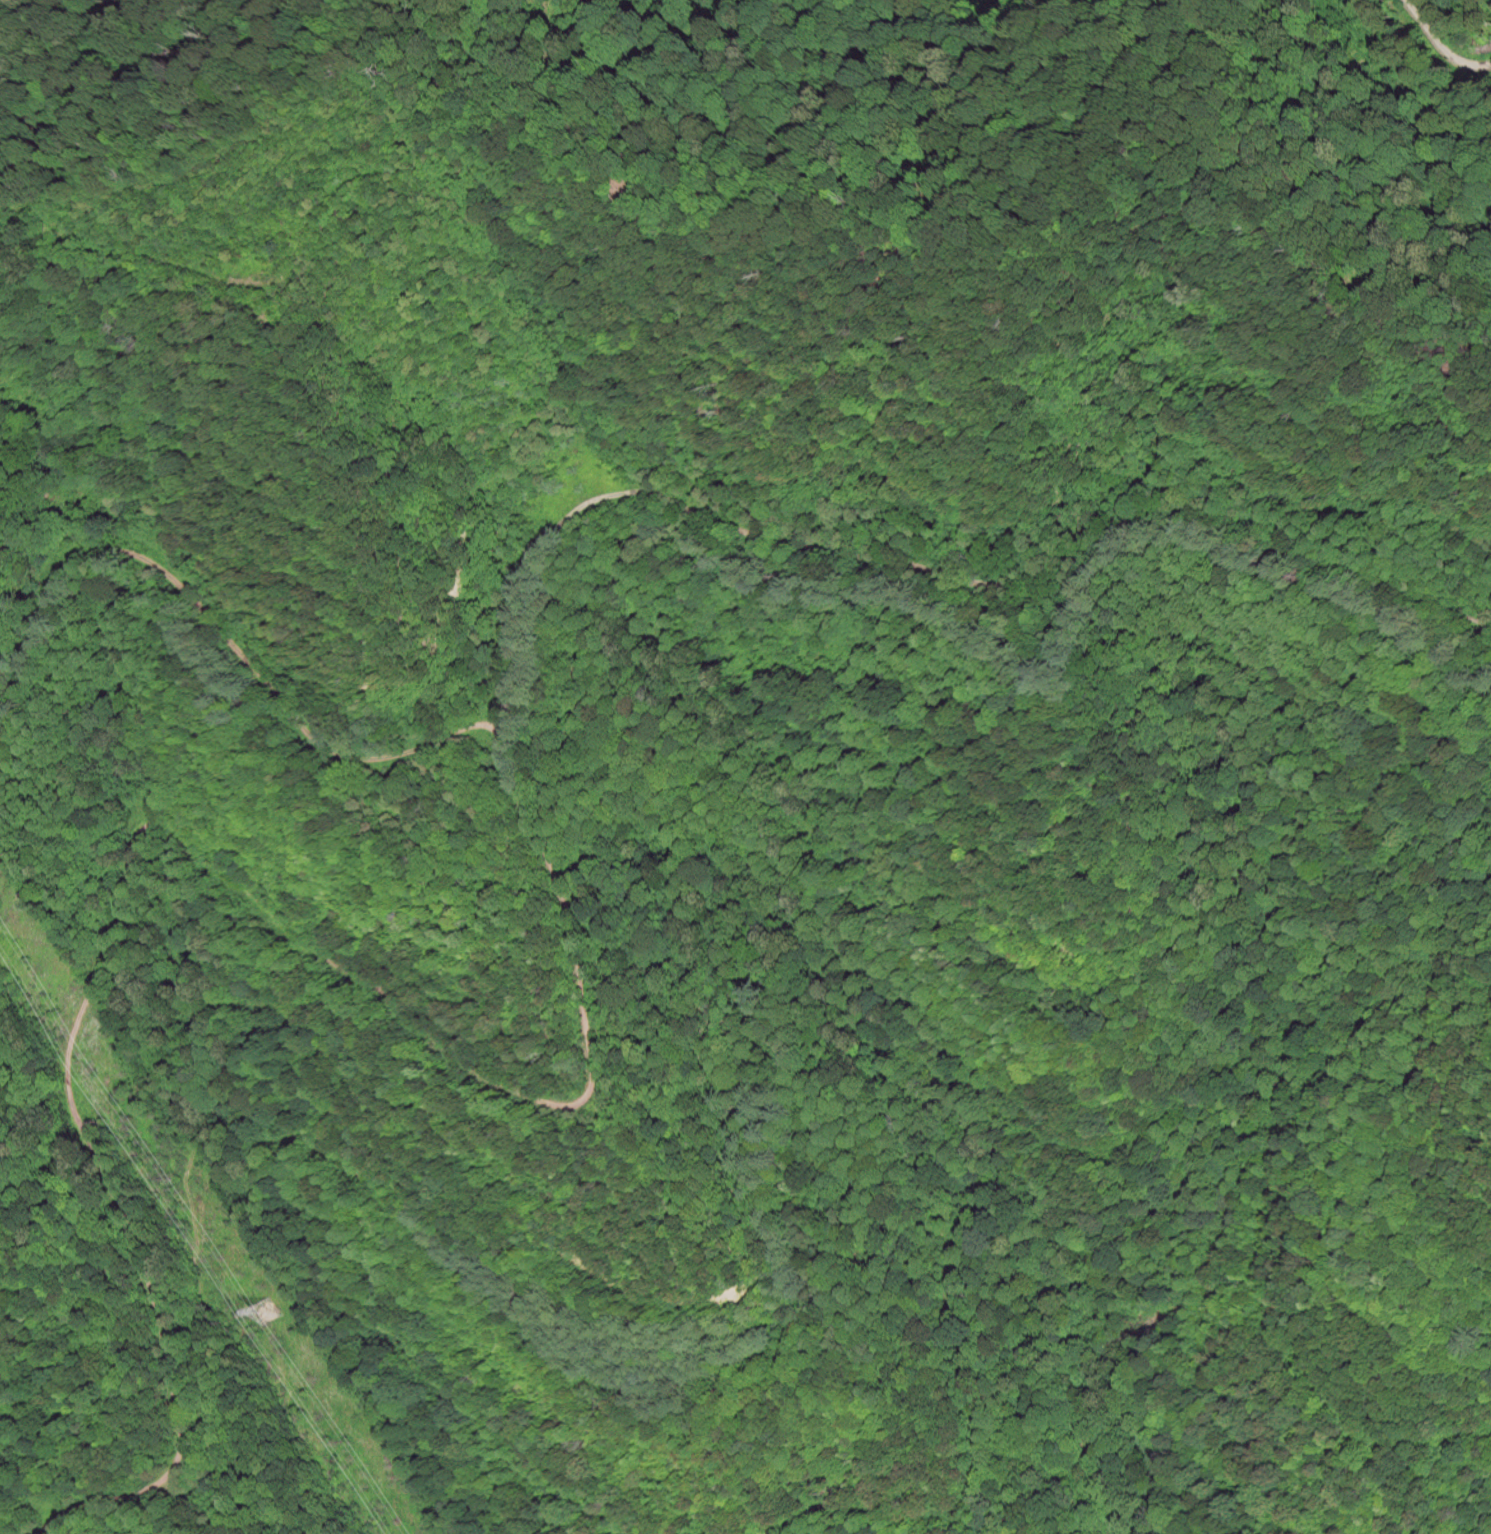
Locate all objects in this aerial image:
power tower: (271, 1314)

